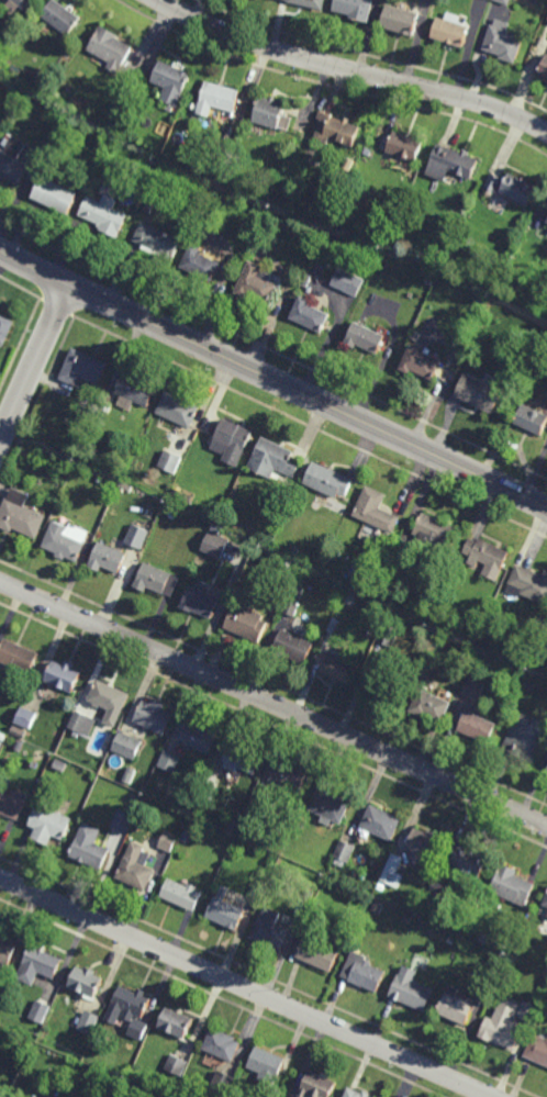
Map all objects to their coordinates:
building: (505, 1)
building: (23, 3)
building: (311, 3)
building: (355, 9)
building: (62, 16)
building: (400, 20)
building: (450, 30)
building: (502, 41)
building: (112, 48)
building: (544, 67)
road: (350, 71)
building: (172, 83)
building: (219, 98)
building: (272, 114)
building: (105, 117)
building: (336, 131)
building: (226, 138)
building: (404, 146)
building: (13, 157)
building: (152, 163)
building: (456, 163)
building: (512, 187)
building: (55, 193)
building: (148, 208)
building: (326, 211)
building: (104, 213)
building: (546, 224)
building: (383, 237)
building: (159, 239)
building: (438, 256)
building: (201, 264)
building: (256, 282)
building: (347, 282)
building: (484, 300)
building: (310, 314)
building: (4, 327)
building: (415, 335)
building: (366, 336)
road: (34, 362)
building: (423, 362)
building: (81, 368)
road: (272, 380)
building: (133, 391)
building: (480, 392)
building: (178, 408)
building: (533, 421)
building: (234, 439)
building: (165, 458)
building: (273, 459)
building: (70, 460)
building: (99, 480)
building: (328, 480)
building: (129, 488)
building: (177, 492)
building: (376, 510)
building: (20, 514)
building: (171, 515)
building: (230, 520)
building: (216, 528)
building: (434, 534)
building: (137, 536)
building: (66, 540)
building: (215, 545)
building: (389, 546)
building: (294, 551)
building: (108, 558)
building: (484, 558)
building: (398, 569)
building: (156, 580)
building: (528, 584)
building: (388, 593)
building: (202, 600)
building: (293, 601)
building: (247, 623)
building: (335, 626)
building: (389, 635)
building: (475, 637)
building: (292, 647)
building: (472, 653)
building: (18, 656)
building: (338, 669)
building: (63, 675)
building: (543, 682)
building: (384, 686)
building: (473, 690)
building: (110, 702)
road: (273, 705)
building: (431, 706)
building: (25, 717)
building: (155, 717)
building: (81, 725)
building: (477, 727)
building: (19, 732)
building: (2, 736)
building: (199, 738)
building: (526, 738)
building: (1, 743)
building: (127, 746)
building: (18, 747)
building: (243, 759)
building: (169, 762)
building: (33, 765)
building: (59, 765)
building: (546, 769)
building: (129, 775)
building: (289, 776)
building: (208, 795)
building: (133, 799)
building: (328, 804)
building: (12, 805)
building: (187, 808)
building: (256, 813)
building: (122, 822)
building: (381, 822)
building: (48, 826)
building: (231, 827)
building: (186, 836)
building: (168, 842)
building: (425, 846)
building: (89, 849)
building: (344, 853)
building: (469, 862)
building: (134, 869)
building: (392, 872)
building: (381, 886)
building: (512, 886)
building: (257, 889)
building: (439, 889)
building: (181, 895)
building: (545, 903)
building: (304, 908)
building: (377, 909)
building: (316, 911)
building: (225, 914)
building: (546, 916)
building: (406, 919)
building: (423, 925)
building: (271, 930)
building: (482, 939)
building: (449, 941)
building: (7, 951)
building: (317, 953)
building: (38, 965)
building: (362, 972)
building: (85, 982)
building: (484, 986)
road: (244, 987)
building: (411, 989)
building: (130, 1003)
building: (457, 1005)
building: (527, 1010)
building: (37, 1011)
building: (175, 1022)
building: (503, 1022)
building: (88, 1023)
building: (137, 1029)
building: (222, 1043)
building: (537, 1046)
building: (266, 1064)
building: (175, 1066)
building: (221, 1085)
building: (316, 1085)
building: (276, 1093)
building: (356, 1093)

